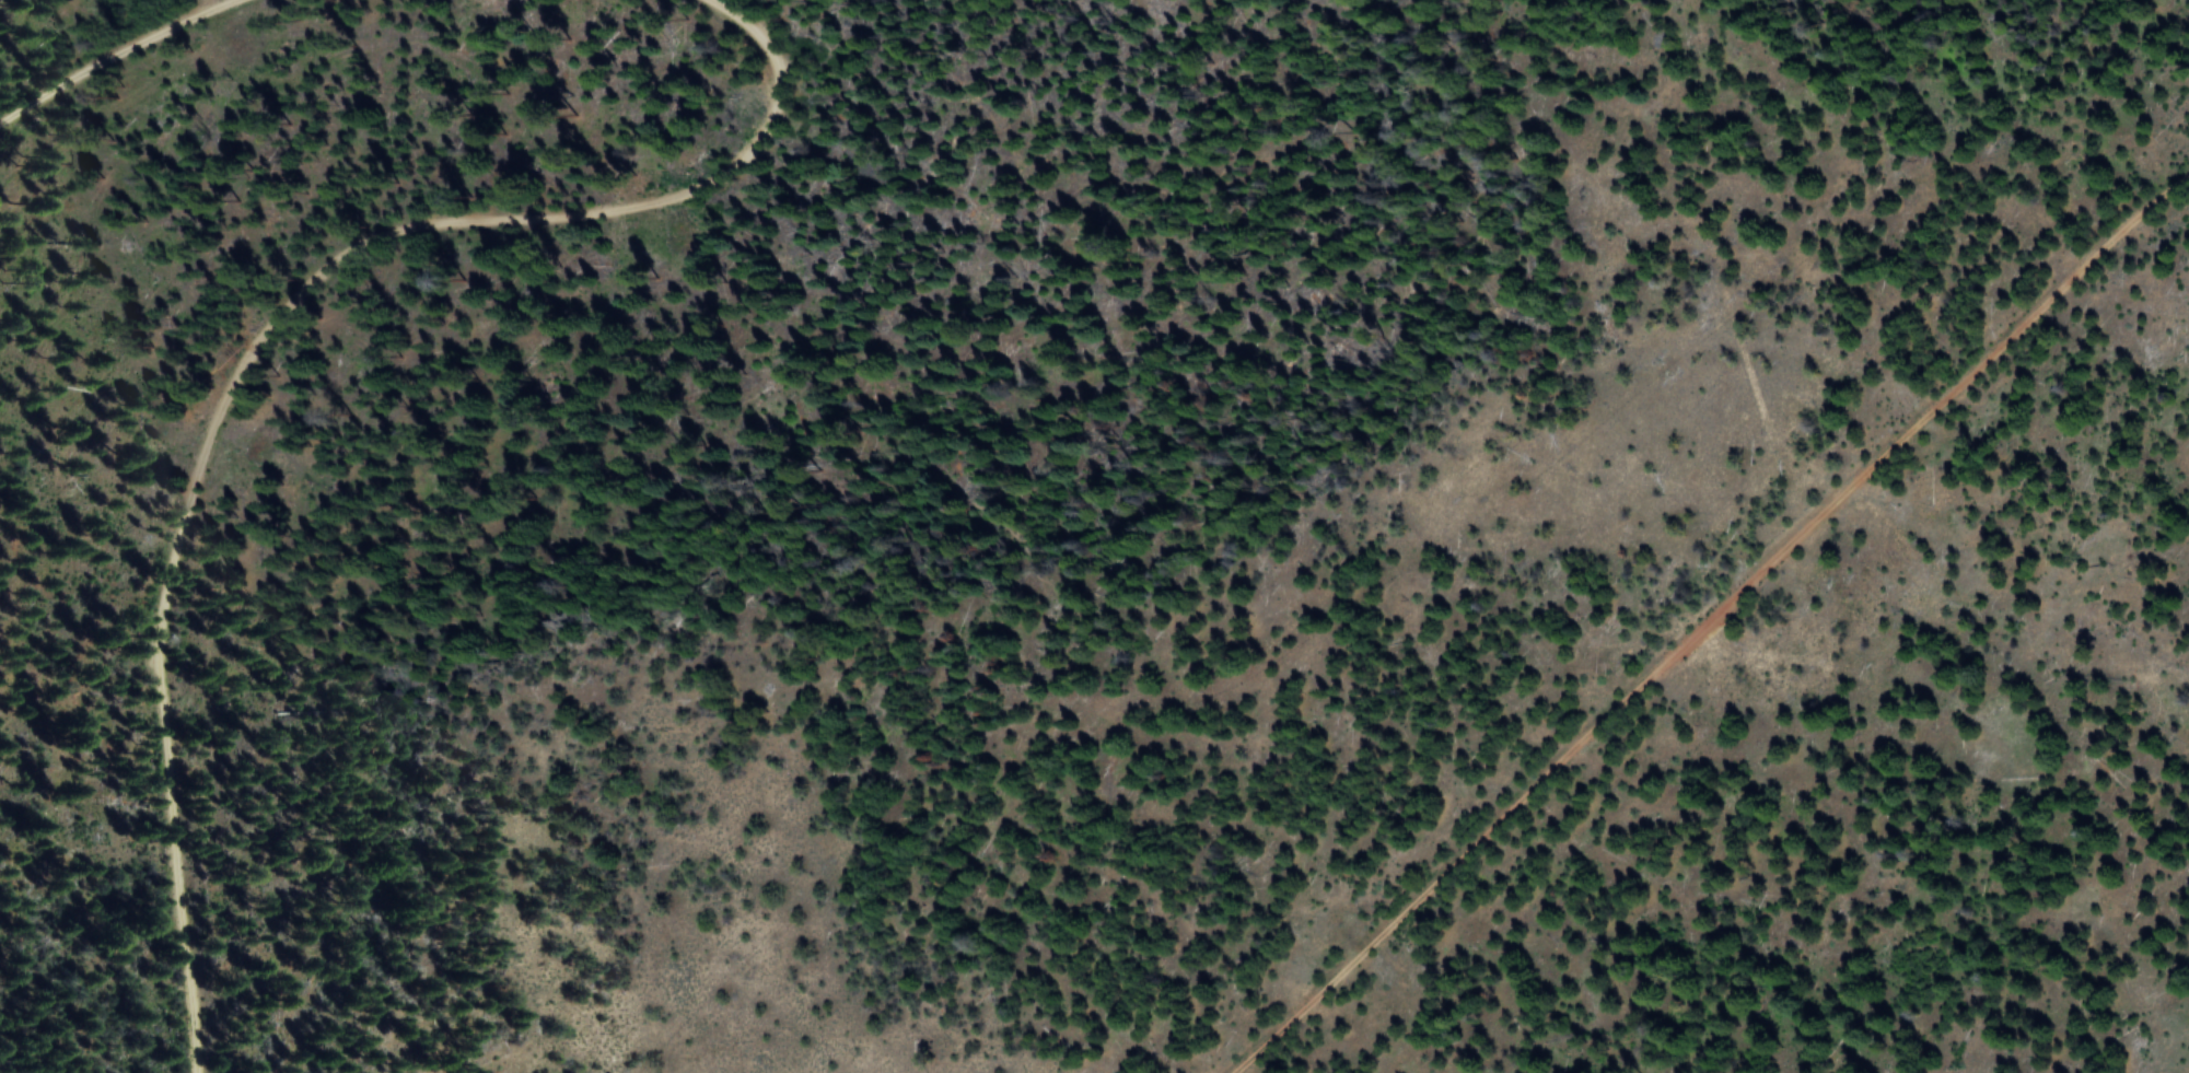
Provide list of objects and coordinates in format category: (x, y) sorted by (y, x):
road: (117, 58)
road: (264, 342)
road: (1702, 619)

